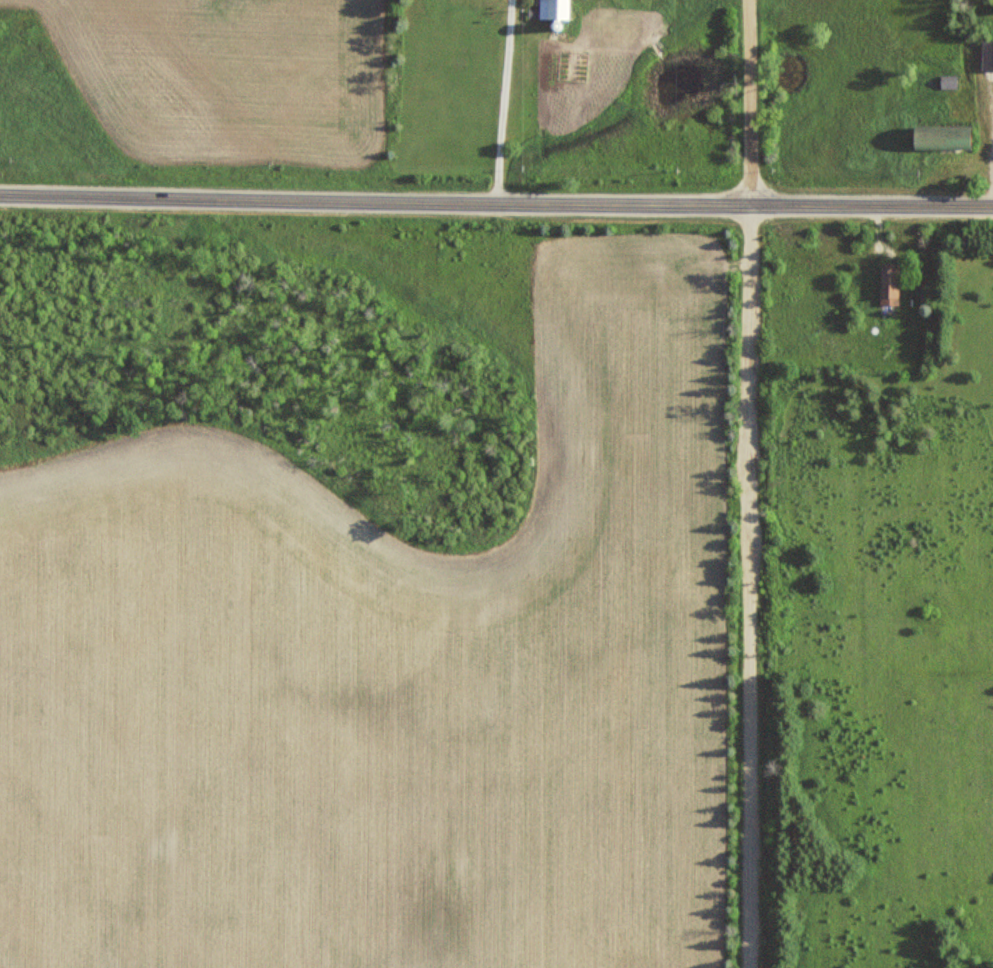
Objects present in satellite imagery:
building: (549, 10)
building: (987, 56)
building: (948, 81)
road: (747, 101)
building: (941, 139)
road: (496, 199)
building: (889, 284)
road: (750, 585)

